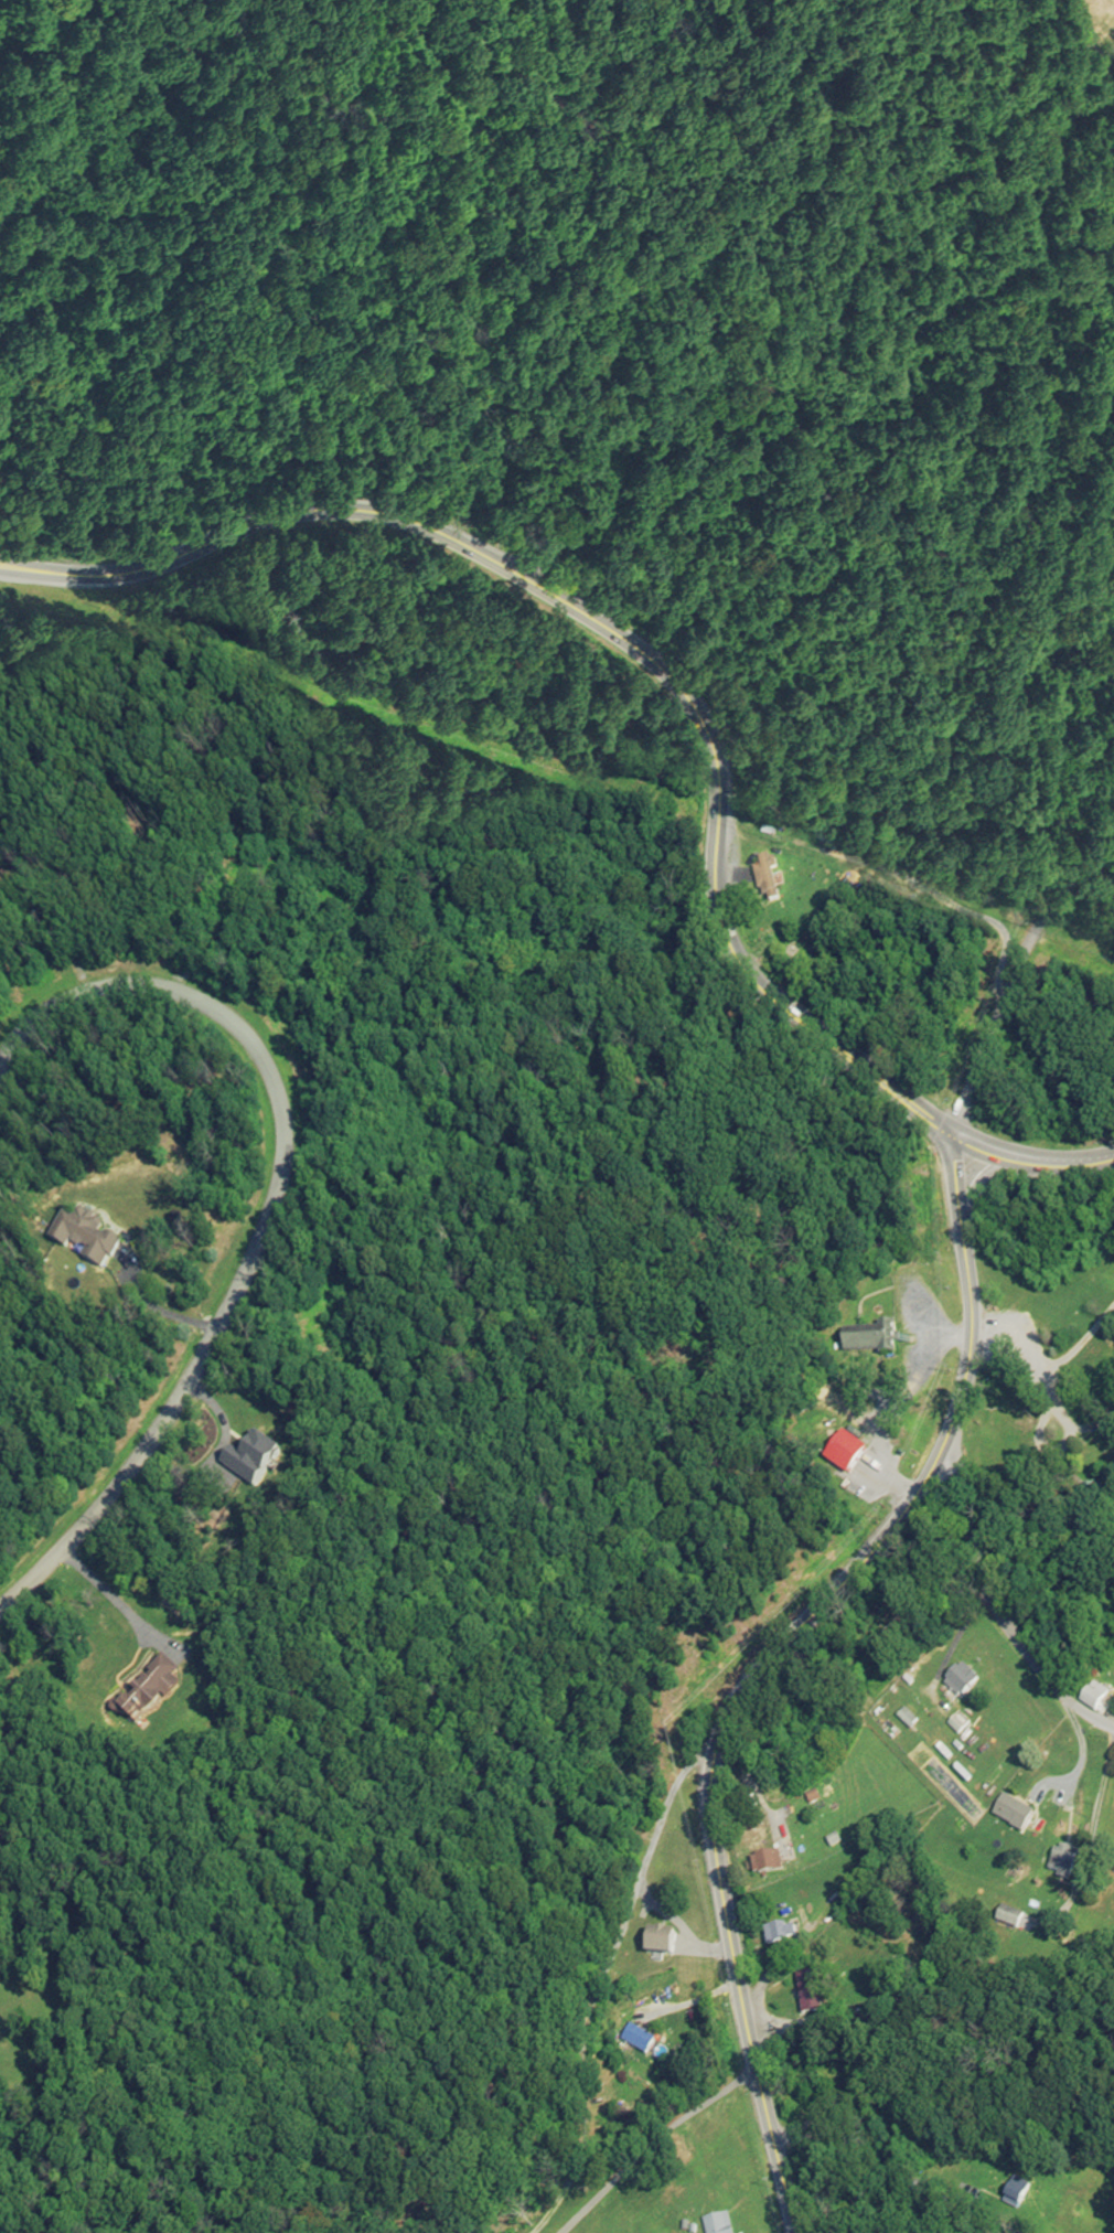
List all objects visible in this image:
road: (676, 682)
building: (763, 879)
road: (1011, 975)
road: (984, 1179)
road: (270, 1212)
building: (83, 1239)
road: (158, 1308)
road: (1014, 1334)
road: (1081, 1340)
building: (868, 1342)
road: (1065, 1410)
building: (842, 1455)
road: (116, 1596)
road: (995, 1605)
road: (762, 1663)
building: (957, 1684)
building: (147, 1690)
building: (1091, 1698)
building: (1010, 1813)
building: (762, 1861)
building: (1006, 1916)
building: (776, 1933)
building: (655, 1942)
building: (805, 1991)
road: (508, 2024)
building: (634, 2038)
building: (812, 2088)
road: (897, 2180)
building: (1011, 2192)
building: (715, 2224)

